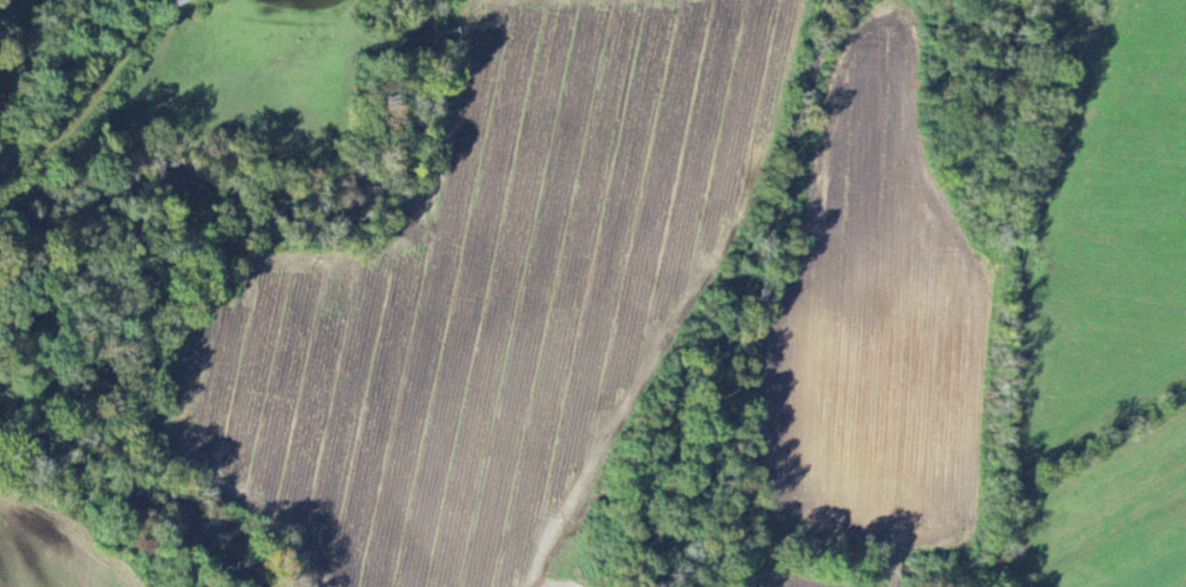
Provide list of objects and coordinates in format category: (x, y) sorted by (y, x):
road: (83, 75)
river: (277, 215)
river: (130, 511)

